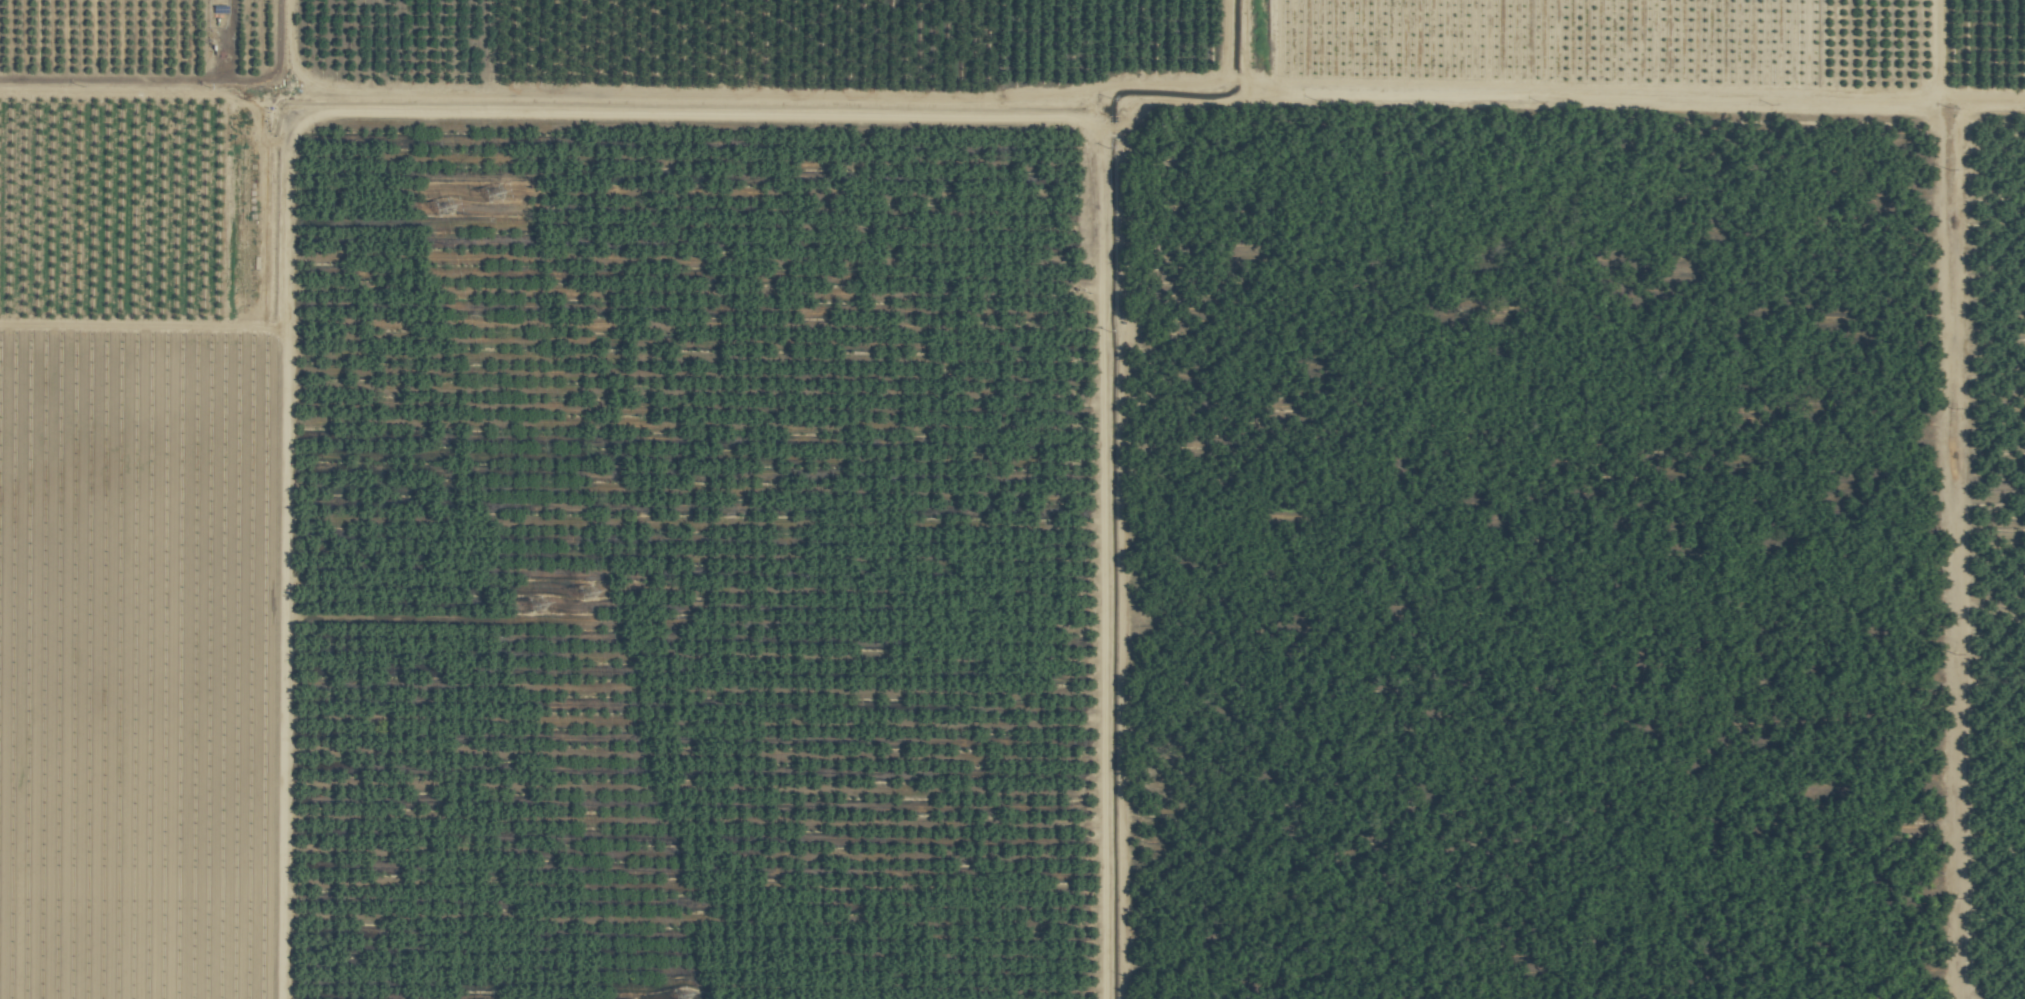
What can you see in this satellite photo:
power tower: (489, 195)
power tower: (441, 211)
crop: (1012, 499)
power tower: (583, 587)
power tower: (536, 603)
power tower: (680, 996)

